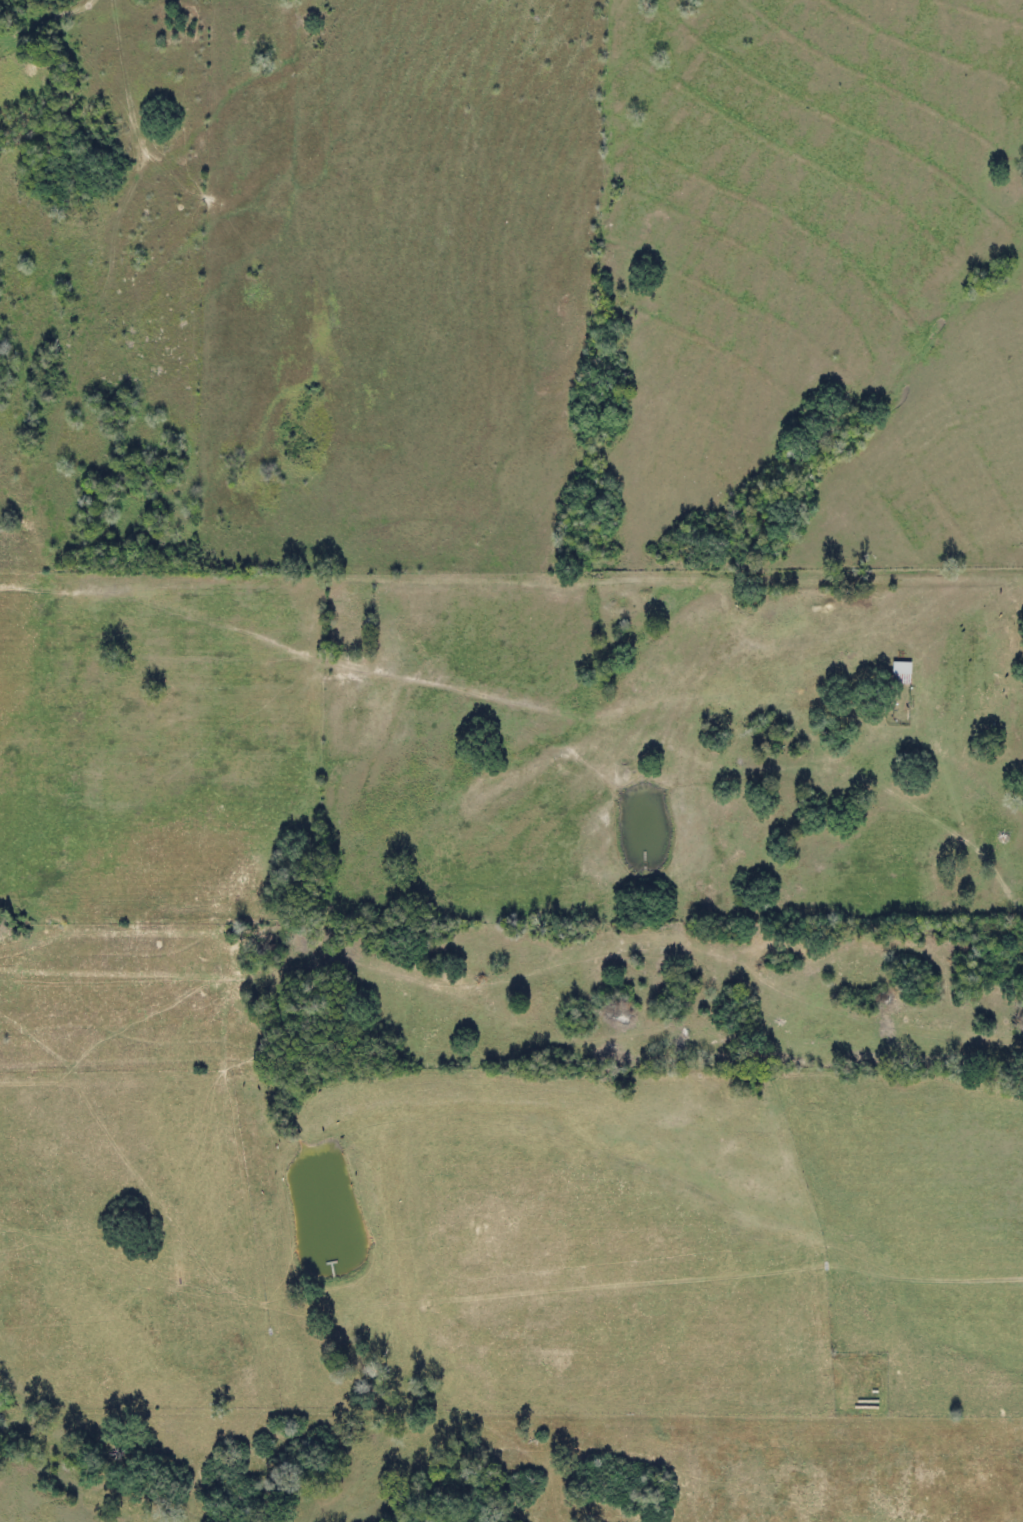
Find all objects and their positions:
building: (901, 672)
road: (854, 731)

